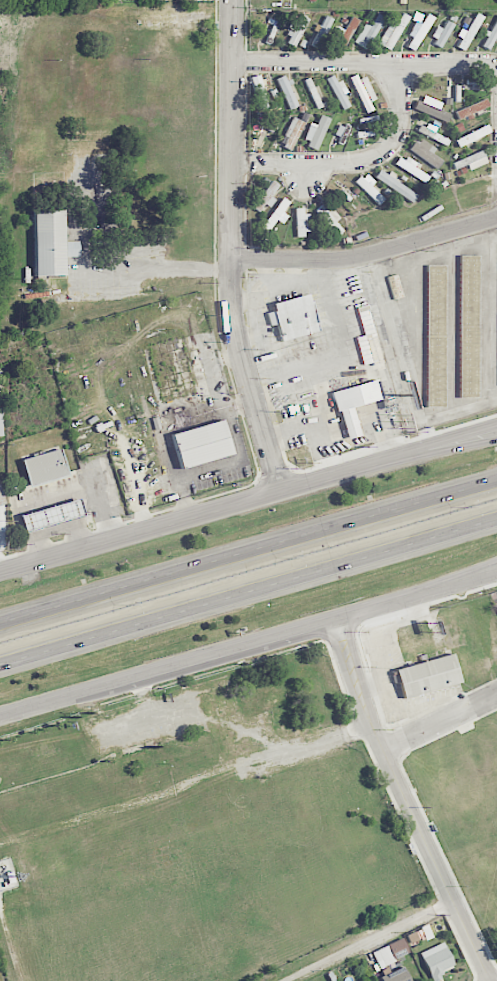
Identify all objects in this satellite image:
building: (297, 30)
building: (322, 31)
building: (470, 31)
building: (368, 32)
building: (392, 32)
building: (420, 32)
building: (441, 33)
building: (343, 34)
building: (491, 36)
road: (316, 62)
road: (449, 64)
building: (338, 91)
building: (363, 91)
building: (286, 92)
building: (314, 94)
building: (431, 107)
building: (471, 108)
road: (230, 128)
building: (316, 132)
building: (292, 133)
building: (425, 152)
building: (471, 160)
road: (353, 161)
building: (409, 167)
building: (396, 185)
building: (370, 189)
building: (266, 196)
building: (276, 213)
building: (329, 217)
building: (301, 223)
building: (50, 243)
road: (365, 254)
road: (159, 261)
road: (261, 293)
building: (294, 316)
road: (489, 316)
building: (468, 326)
road: (453, 327)
road: (418, 328)
building: (435, 336)
building: (368, 338)
road: (342, 349)
road: (247, 374)
road: (268, 399)
building: (354, 403)
building: (0, 426)
road: (338, 426)
road: (452, 439)
building: (201, 443)
road: (452, 447)
road: (323, 450)
building: (44, 466)
building: (1, 497)
road: (203, 512)
building: (51, 514)
gas station: (51, 514)
road: (248, 550)
road: (451, 579)
road: (451, 582)
road: (248, 590)
road: (390, 601)
road: (355, 611)
road: (167, 664)
road: (380, 669)
building: (427, 675)
road: (440, 724)
road: (406, 801)
road: (371, 941)
building: (390, 952)
building: (436, 960)
building: (396, 975)

